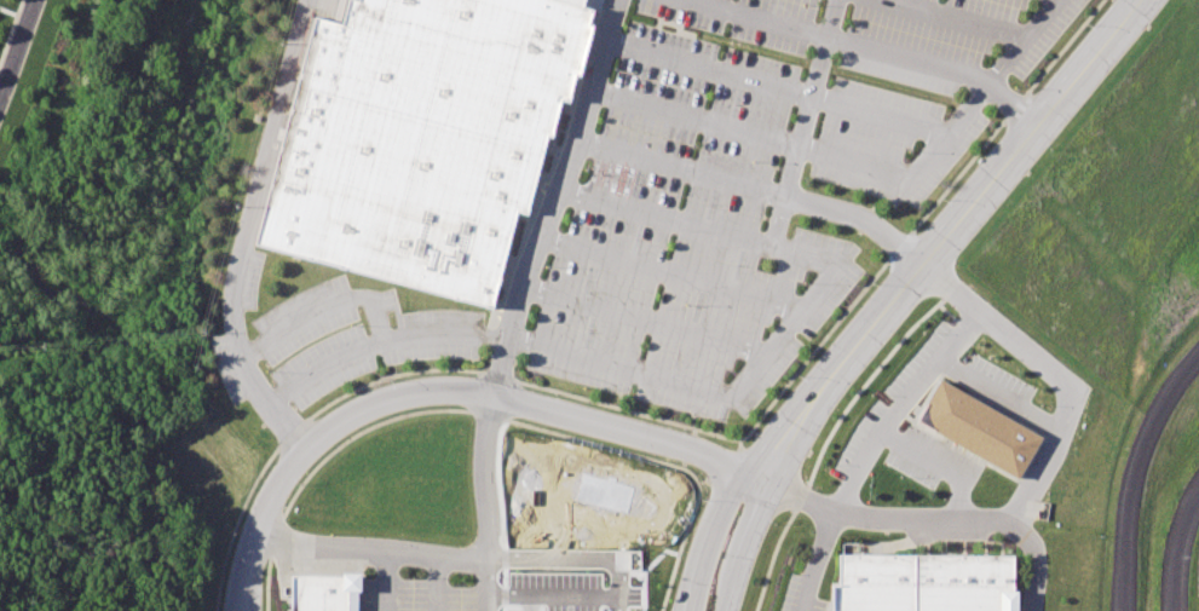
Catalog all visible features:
building: (575, 1)
road: (13, 12)
road: (953, 19)
road: (838, 42)
road: (18, 47)
road: (714, 68)
road: (1014, 108)
road: (278, 115)
road: (883, 115)
road: (698, 117)
road: (807, 121)
building: (420, 137)
road: (949, 137)
road: (760, 189)
road: (559, 198)
parking lot: (688, 200)
road: (946, 240)
road: (675, 273)
road: (321, 306)
road: (807, 309)
road: (647, 319)
road: (379, 342)
road: (237, 350)
road: (1054, 373)
road: (442, 391)
road: (1001, 396)
road: (1168, 397)
building: (981, 428)
road: (874, 448)
road: (941, 463)
road: (484, 489)
road: (932, 519)
road: (1126, 526)
road: (705, 537)
road: (745, 548)
road: (1177, 548)
road: (373, 552)
road: (570, 558)
road: (381, 582)
building: (926, 583)
road: (434, 584)
building: (323, 592)
road: (560, 594)
parking lot: (427, 596)
road: (491, 598)
road: (515, 603)

